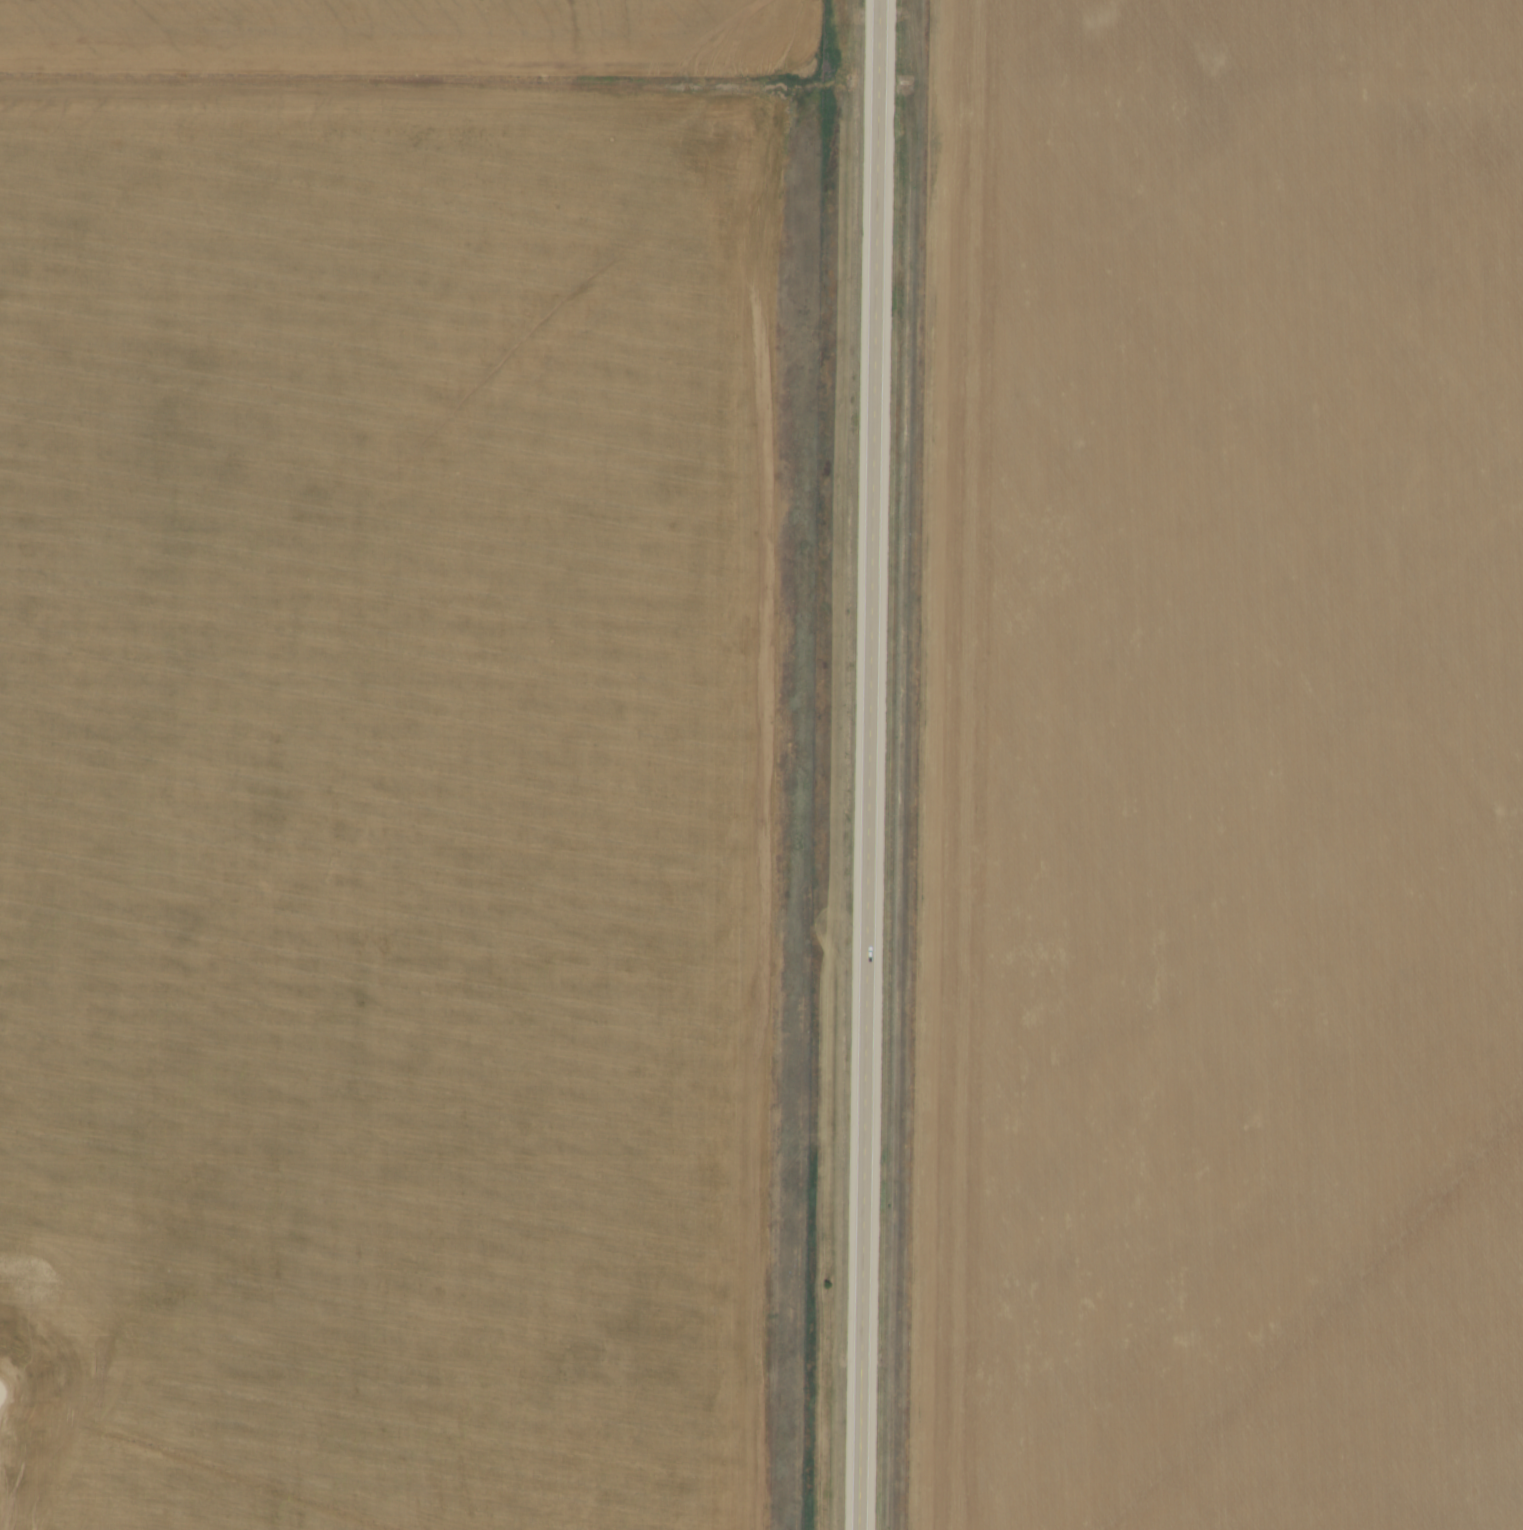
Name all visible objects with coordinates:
road: (864, 765)

